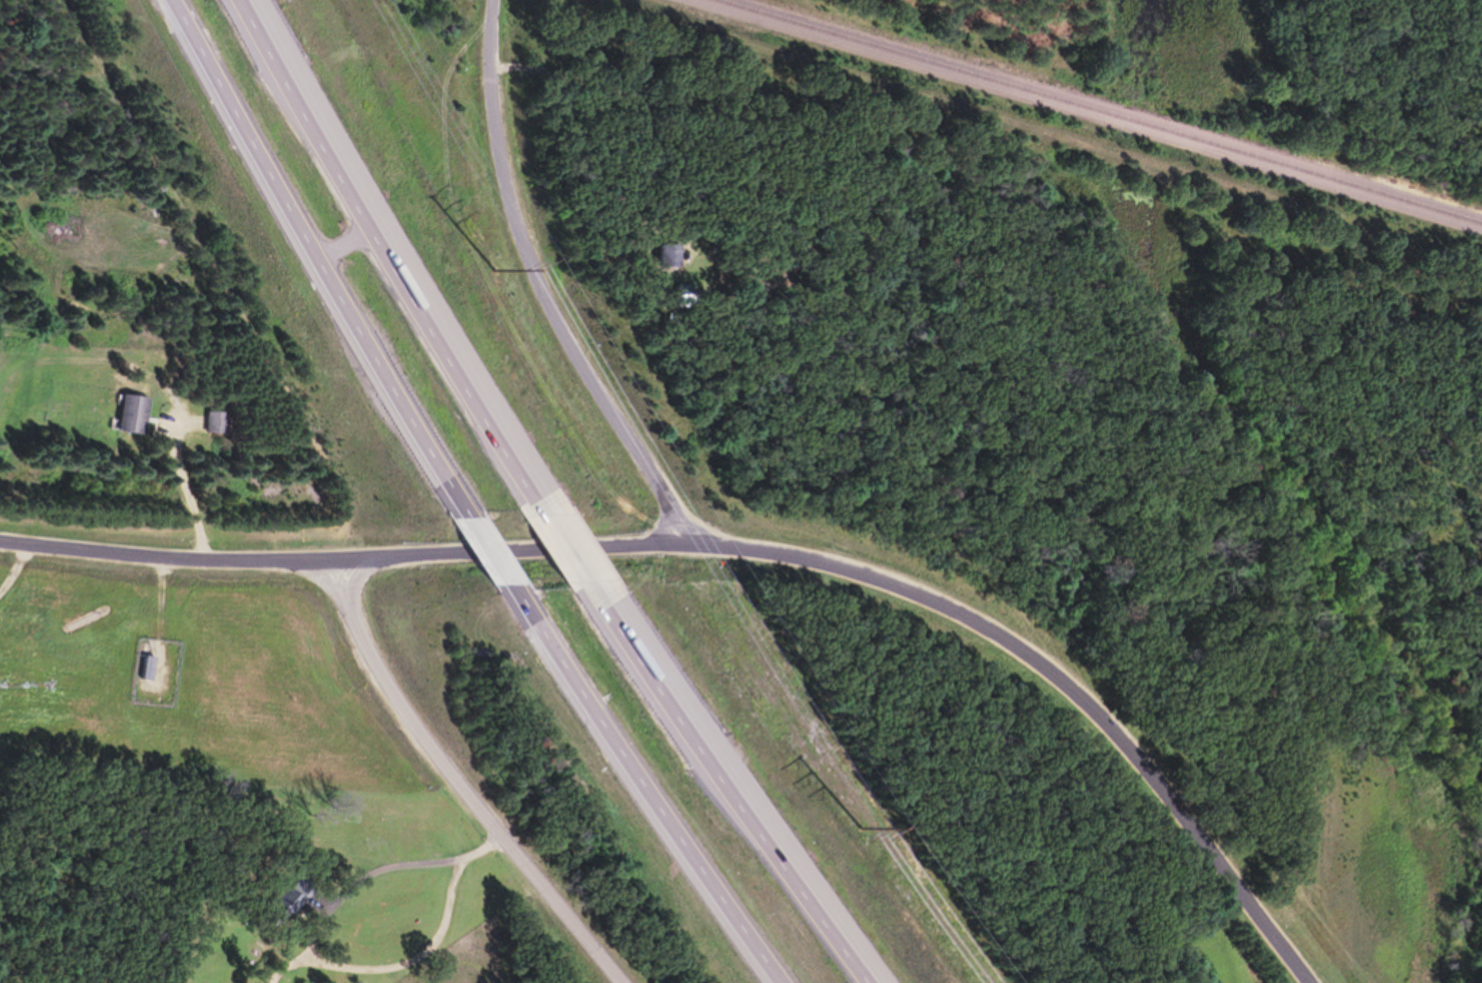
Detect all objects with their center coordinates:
railway: (1103, 110)
road: (348, 246)
building: (670, 257)
road: (392, 261)
road: (322, 263)
power tower: (496, 269)
road: (545, 290)
building: (139, 415)
building: (221, 423)
road: (572, 550)
road: (498, 554)
road: (170, 560)
road: (906, 599)
road: (166, 605)
building: (153, 669)
road: (462, 782)
road: (741, 783)
road: (640, 784)
power tower: (860, 827)
road: (413, 924)
road: (421, 954)

